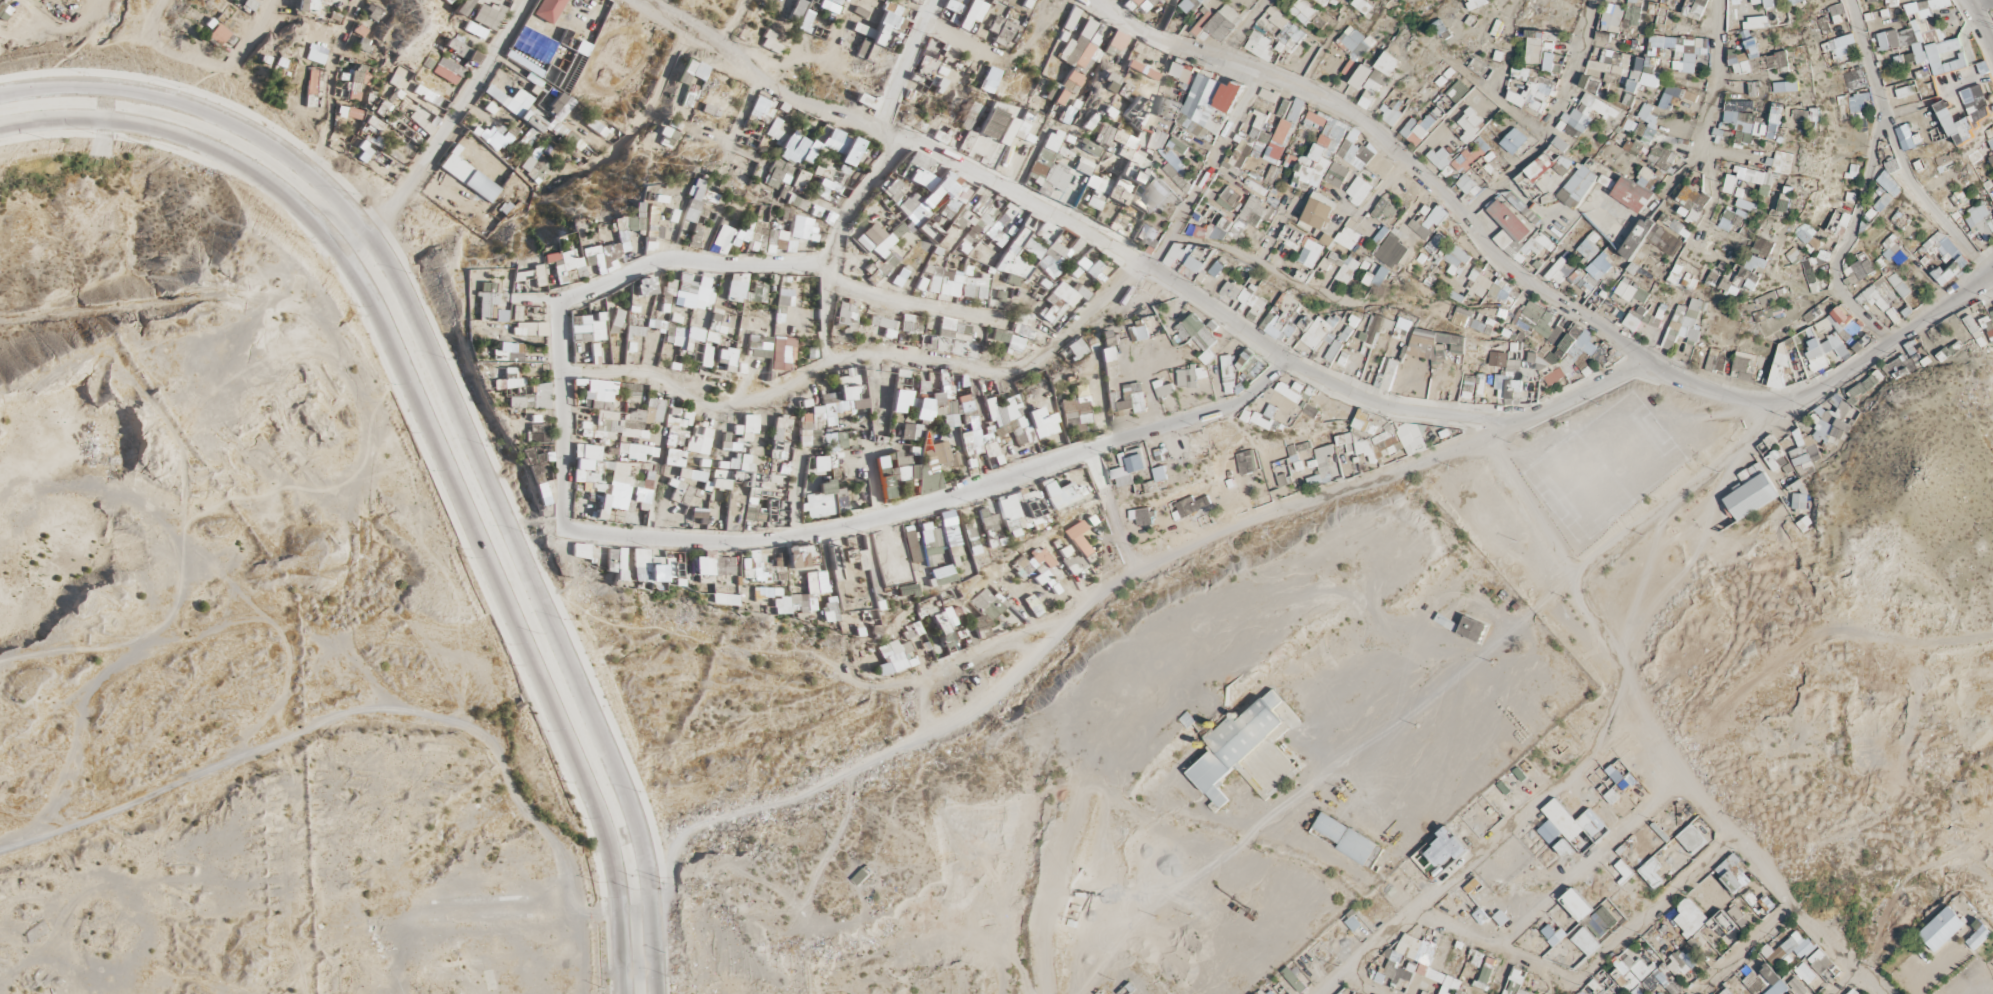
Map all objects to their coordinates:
road: (1990, 1)

